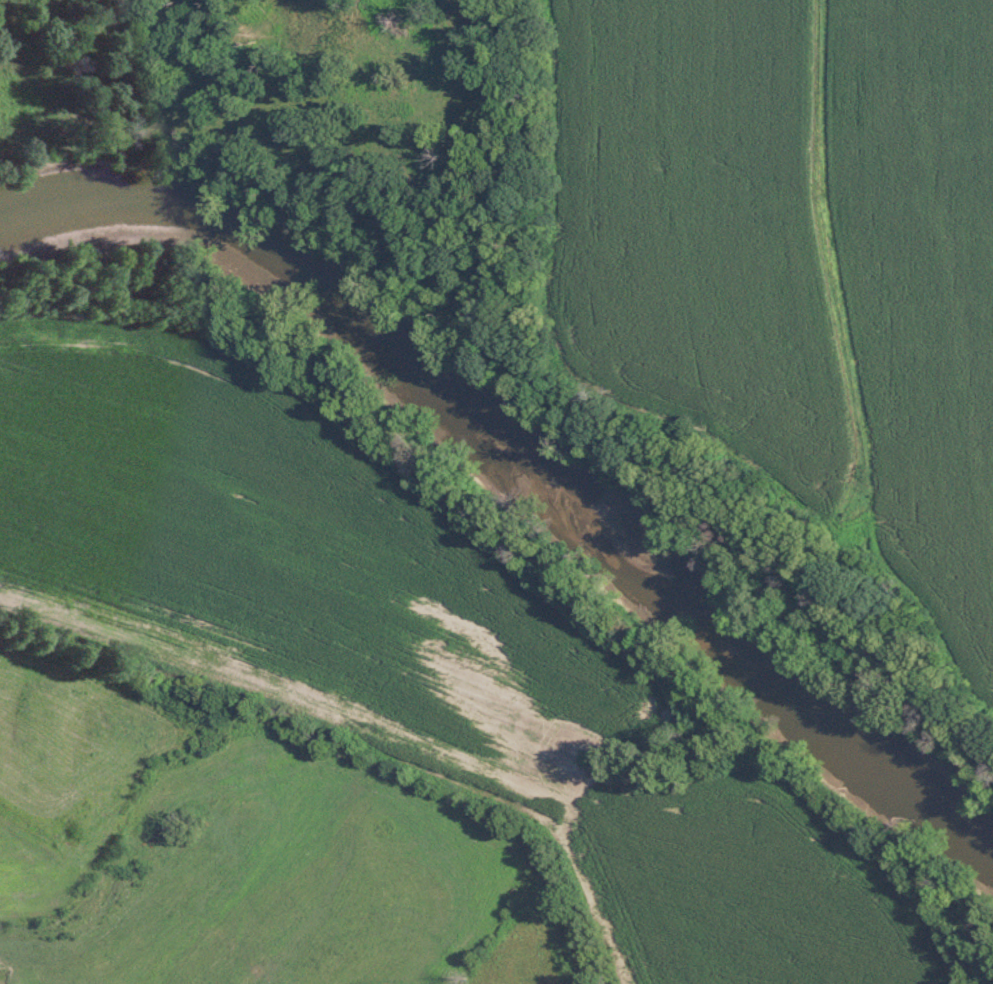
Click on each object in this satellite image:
river: (535, 446)

